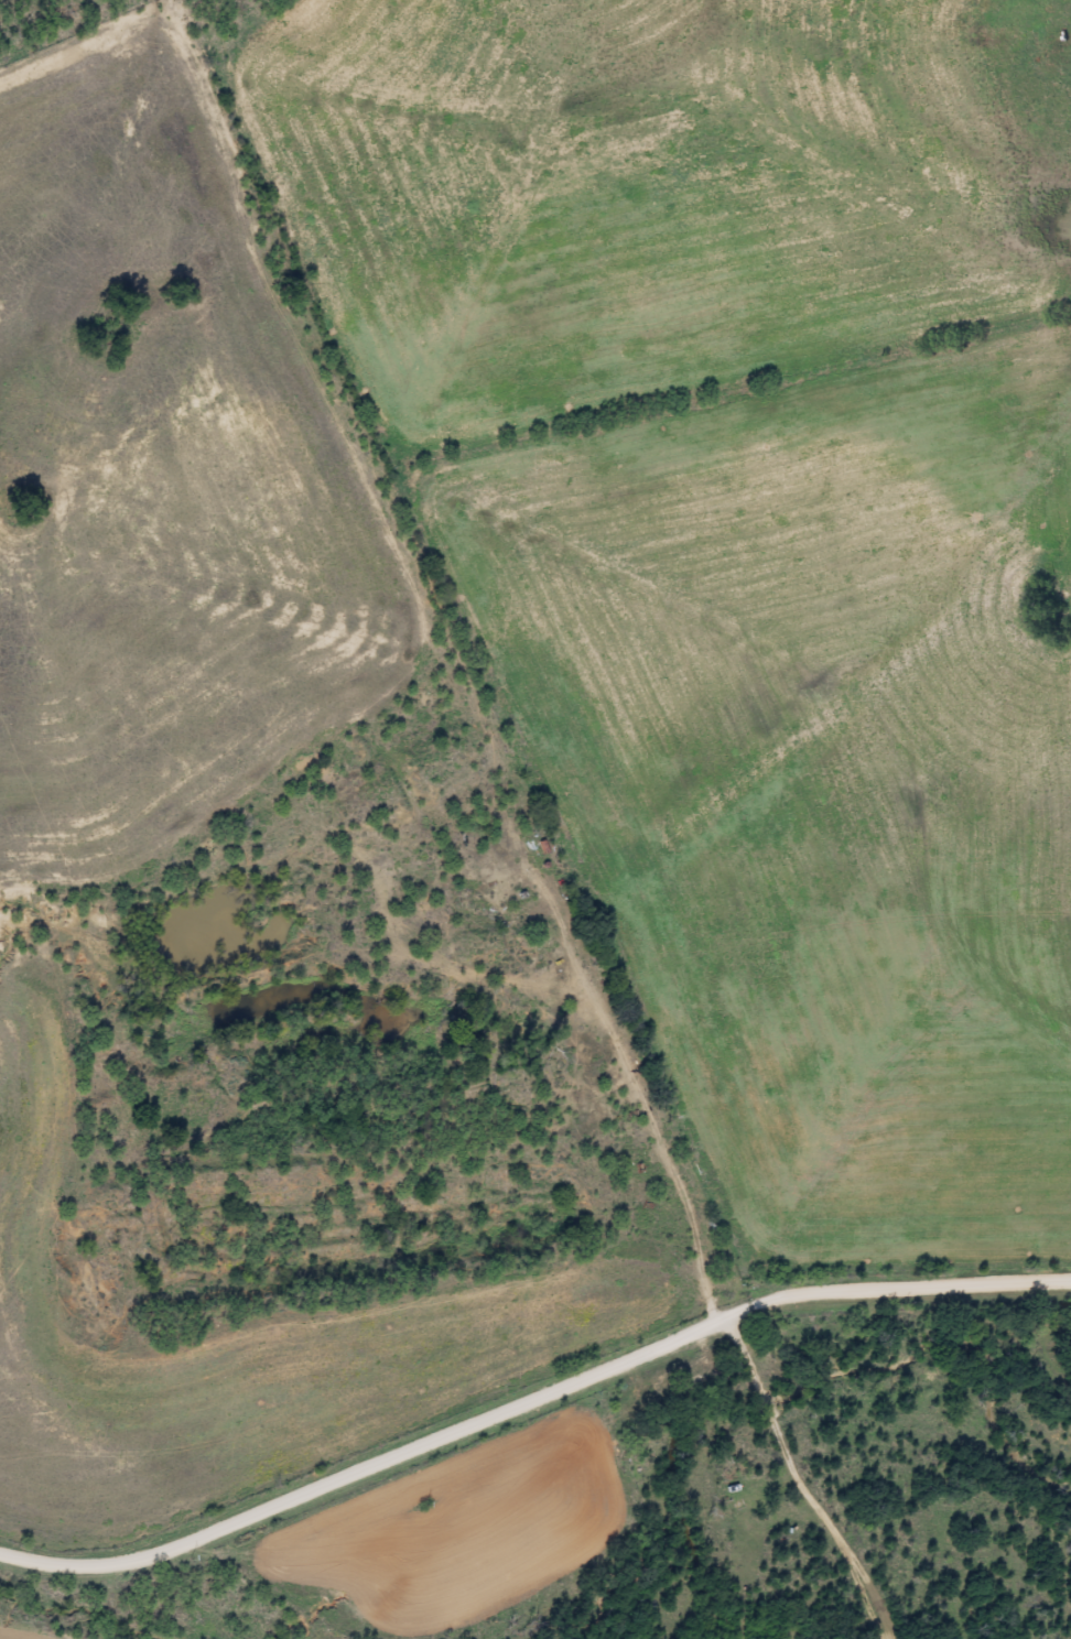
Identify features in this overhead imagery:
road: (632, 905)
road: (777, 1299)
building: (664, 1396)
road: (881, 1523)
road: (259, 1537)

